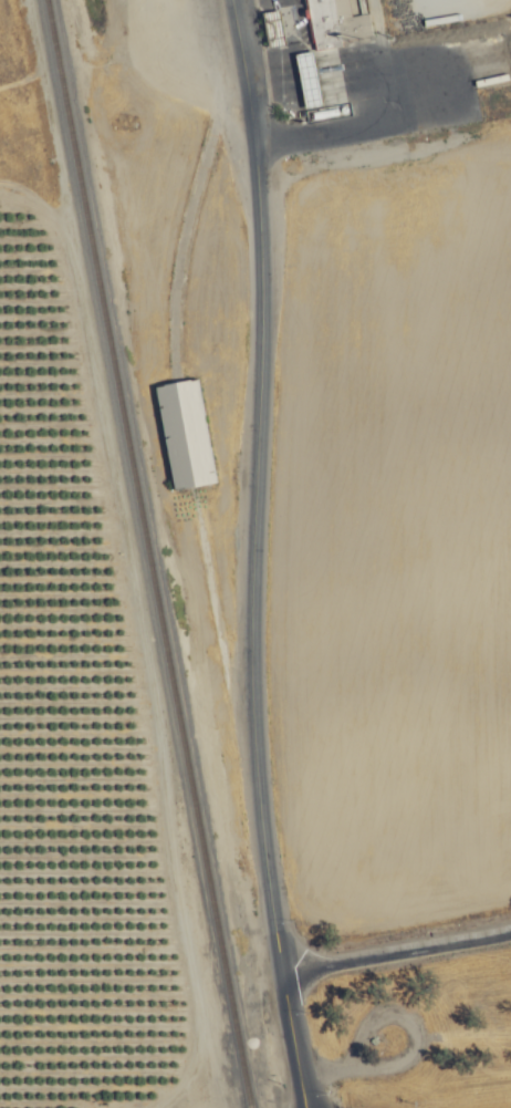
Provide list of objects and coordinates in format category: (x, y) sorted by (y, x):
building: (333, 22)
road: (337, 127)
building: (185, 432)
road: (255, 487)
railway: (147, 553)
road: (396, 955)
road: (292, 1042)

